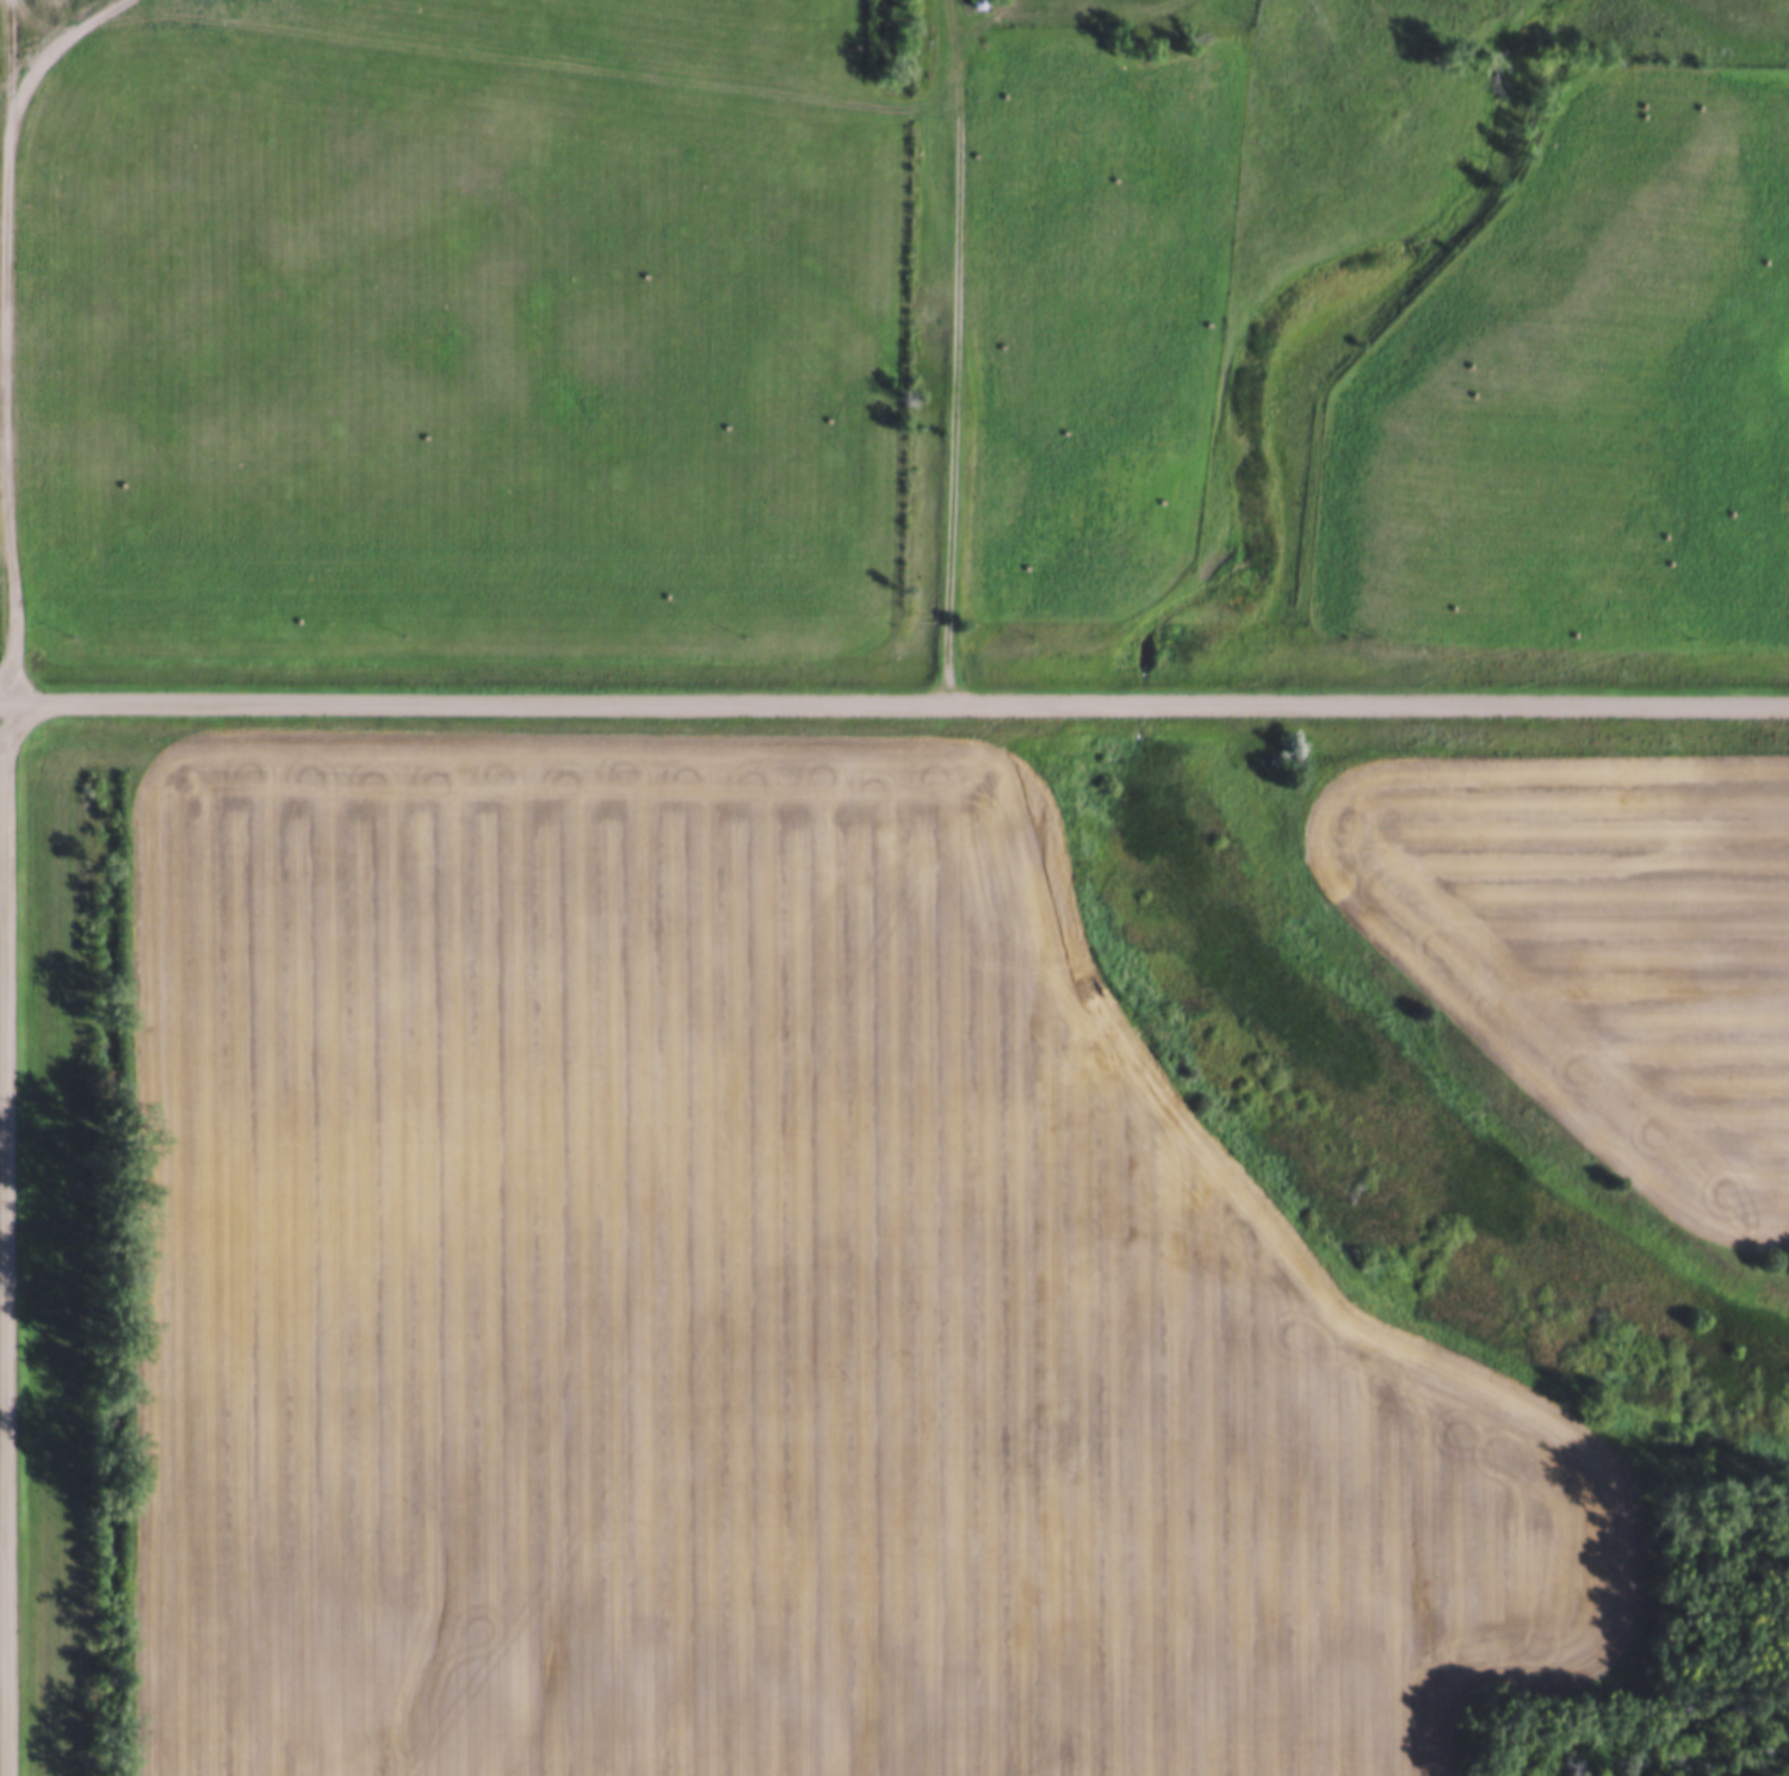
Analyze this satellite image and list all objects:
quarry: (43, 37)
road: (8, 348)
road: (957, 398)
road: (895, 699)
road: (5, 1237)

